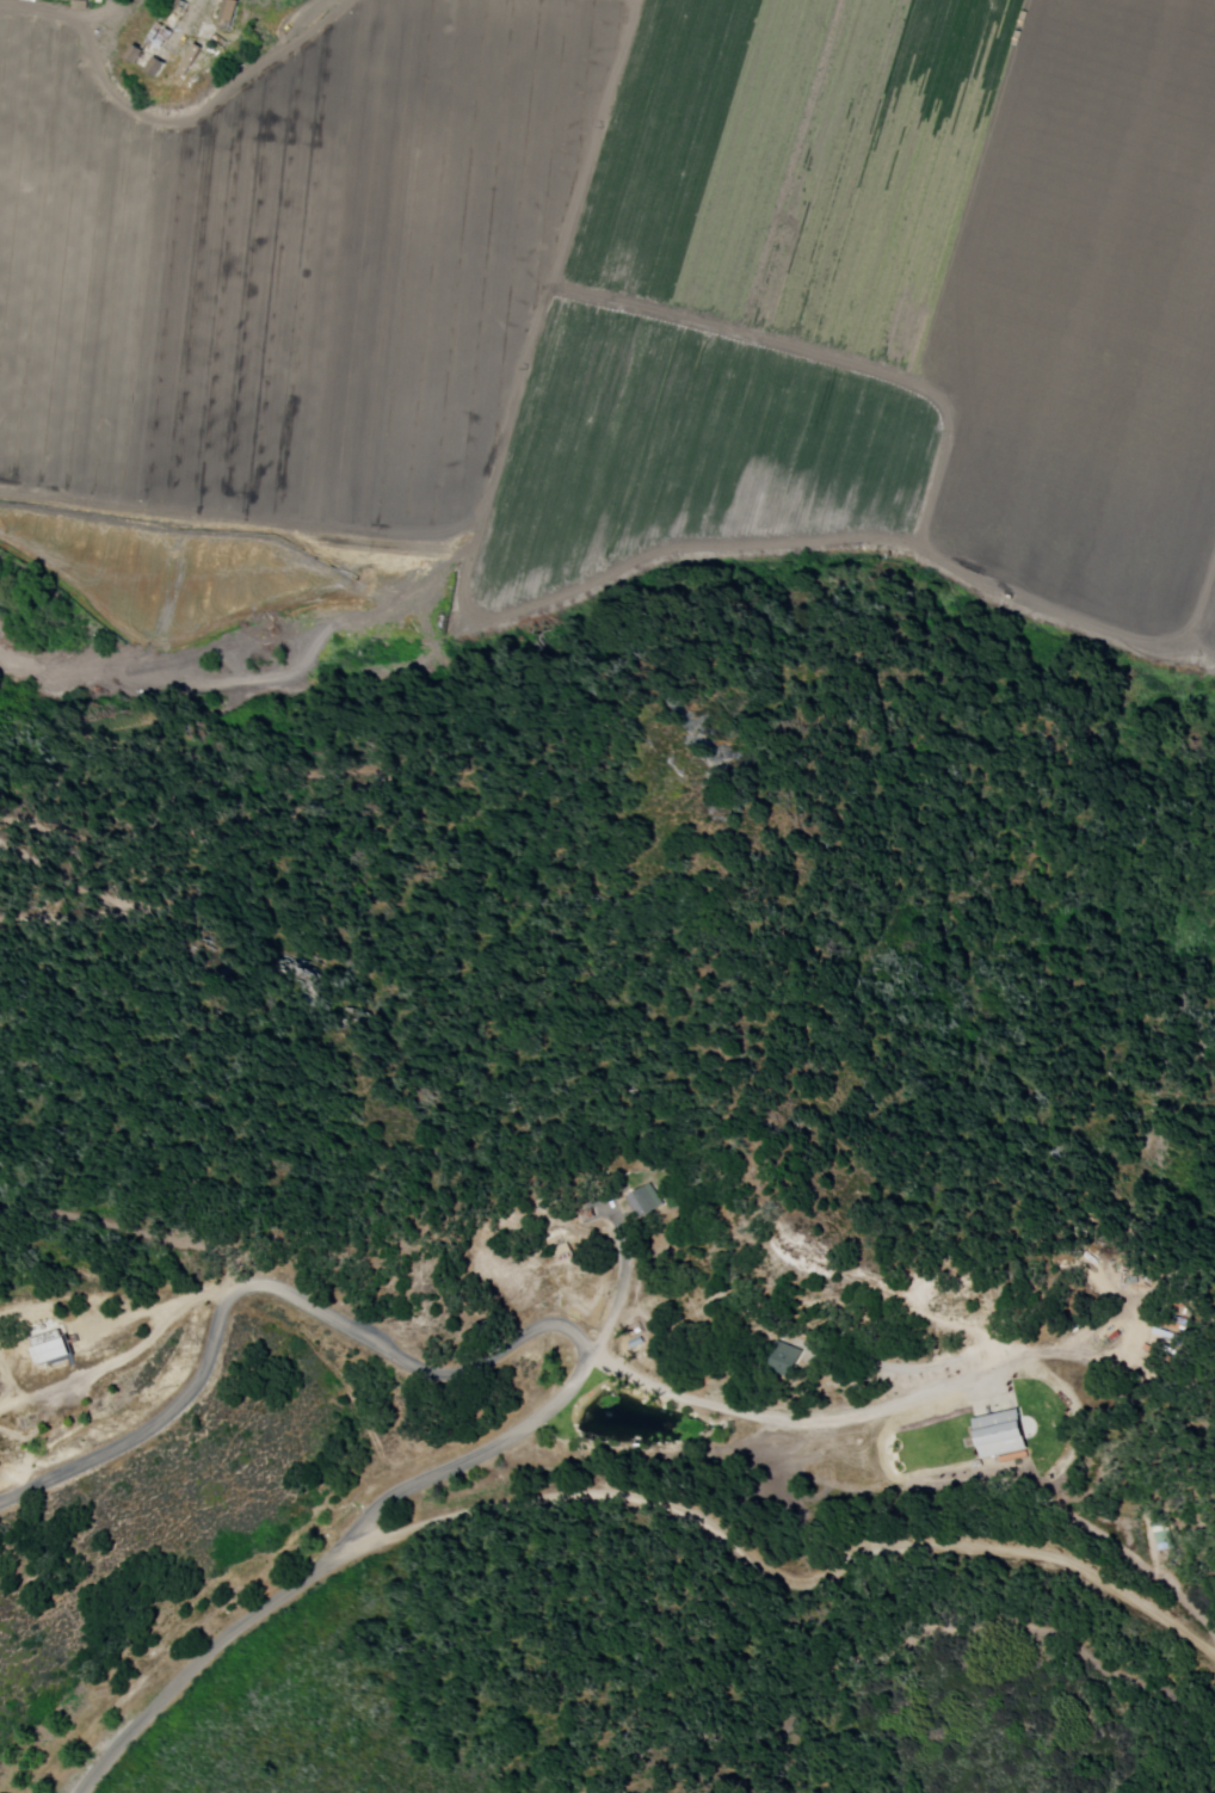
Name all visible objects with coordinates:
building: (80, 6)
building: (227, 21)
building: (159, 36)
crop: (283, 306)
crop: (889, 306)
building: (647, 1201)
road: (623, 1290)
building: (1118, 1332)
building: (1106, 1341)
building: (51, 1350)
building: (785, 1361)
road: (411, 1367)
road: (888, 1407)
building: (998, 1428)
road: (795, 1586)
road: (215, 1650)
road: (1204, 1662)

